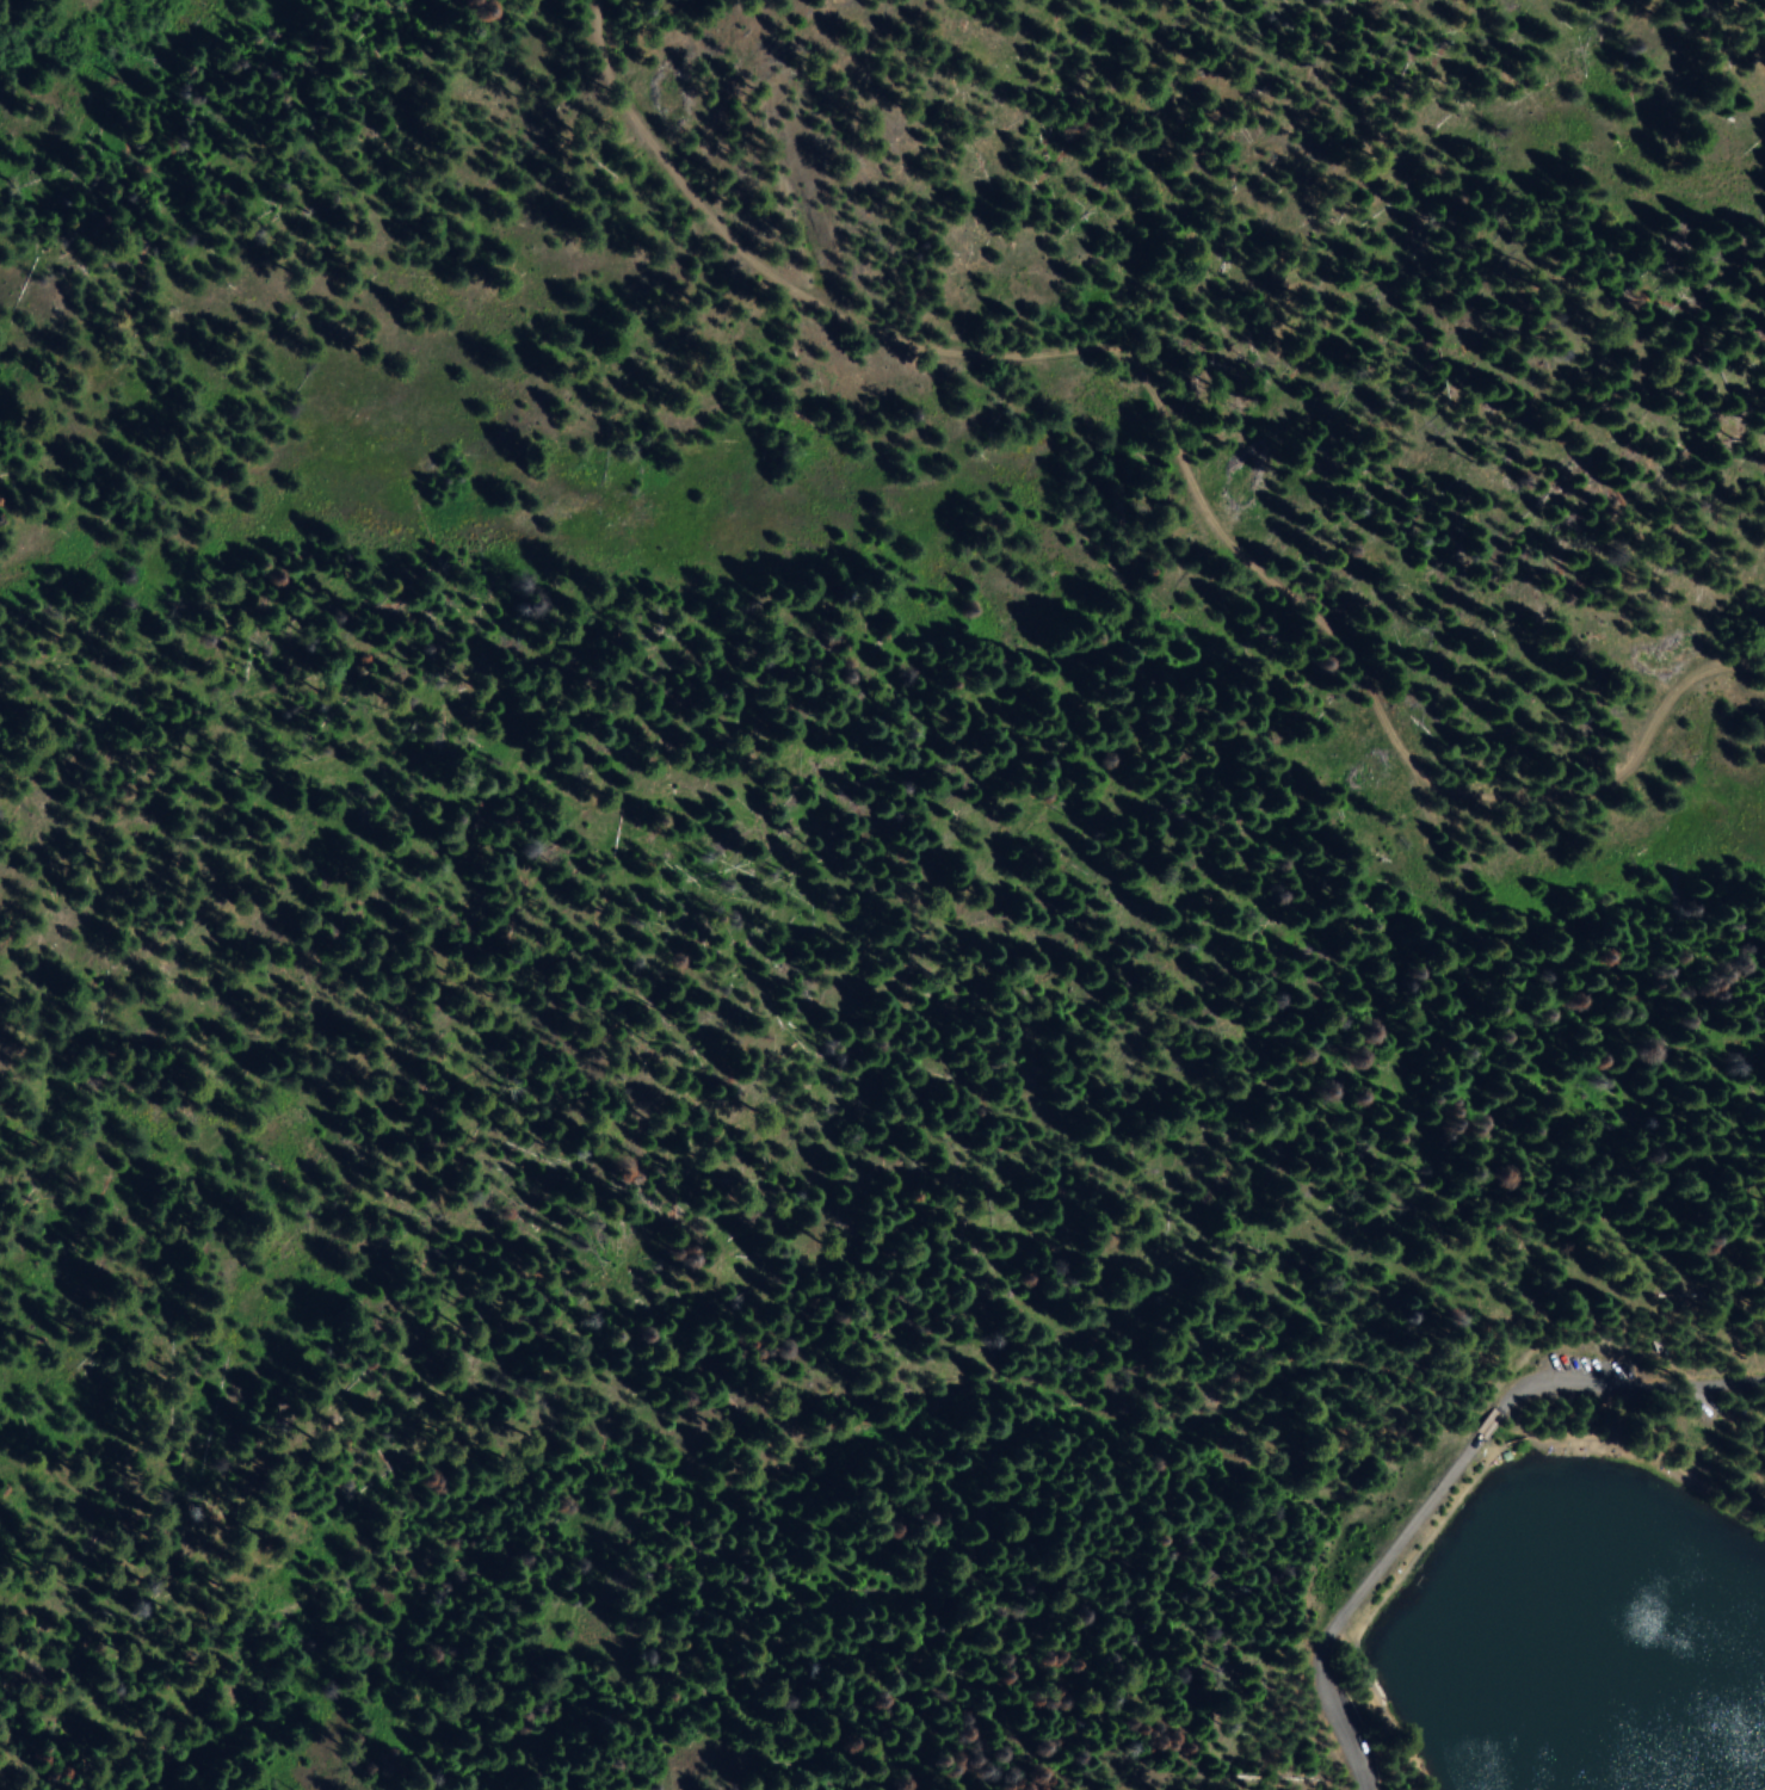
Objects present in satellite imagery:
road: (1173, 428)
parking lot: (1588, 1364)
road: (1627, 1384)
road: (1486, 1416)
road: (1512, 1438)
road: (1647, 1456)
dam: (1426, 1553)
road: (1345, 1595)
road: (1375, 1605)

